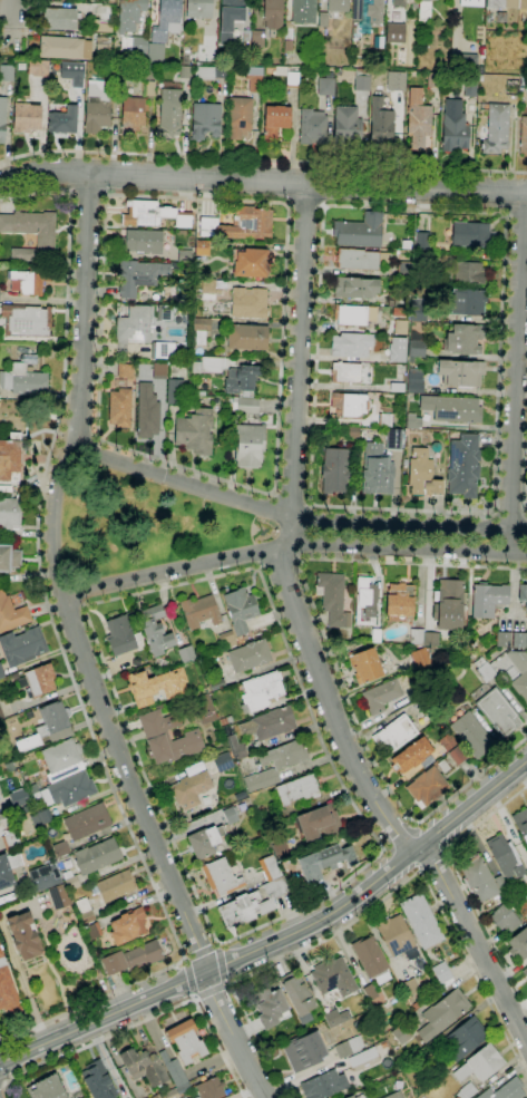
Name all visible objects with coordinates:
building: (399, 2)
building: (471, 2)
building: (501, 3)
building: (523, 4)
building: (338, 6)
building: (198, 9)
building: (303, 11)
road: (27, 12)
building: (423, 12)
building: (272, 13)
building: (365, 13)
road: (11, 14)
building: (129, 14)
building: (230, 18)
building: (490, 18)
building: (59, 19)
building: (323, 19)
building: (166, 20)
building: (101, 27)
building: (84, 29)
building: (393, 32)
building: (287, 36)
building: (246, 38)
building: (257, 39)
building: (33, 41)
building: (104, 42)
building: (65, 47)
building: (135, 47)
building: (38, 67)
building: (71, 72)
building: (185, 72)
building: (209, 72)
building: (6, 74)
building: (111, 74)
building: (254, 78)
building: (292, 79)
building: (362, 79)
building: (433, 80)
building: (396, 81)
building: (325, 85)
building: (149, 88)
building: (513, 88)
building: (470, 89)
building: (97, 106)
building: (169, 110)
building: (133, 115)
building: (26, 117)
building: (240, 117)
building: (2, 119)
building: (205, 119)
building: (64, 120)
building: (275, 122)
building: (380, 125)
building: (417, 125)
building: (347, 126)
building: (312, 127)
building: (453, 127)
building: (496, 129)
building: (523, 135)
road: (262, 161)
road: (263, 181)
road: (128, 196)
road: (89, 198)
road: (304, 206)
building: (154, 214)
road: (515, 216)
building: (208, 223)
building: (250, 224)
building: (359, 231)
building: (472, 235)
building: (45, 241)
building: (144, 241)
building: (422, 242)
building: (202, 247)
building: (422, 254)
building: (184, 256)
building: (360, 259)
building: (251, 263)
building: (403, 270)
building: (468, 273)
building: (139, 275)
building: (29, 280)
building: (355, 288)
building: (212, 289)
building: (401, 300)
building: (248, 302)
building: (467, 302)
road: (82, 310)
building: (418, 310)
building: (165, 312)
building: (354, 314)
building: (26, 321)
building: (133, 327)
building: (400, 328)
building: (201, 330)
building: (0, 334)
building: (247, 337)
building: (465, 340)
building: (351, 344)
building: (417, 349)
building: (162, 350)
building: (397, 350)
building: (211, 363)
building: (126, 370)
building: (159, 371)
building: (344, 372)
building: (460, 372)
road: (515, 373)
building: (23, 378)
building: (241, 378)
building: (414, 380)
building: (397, 387)
building: (176, 392)
building: (197, 392)
building: (245, 405)
building: (349, 405)
building: (120, 408)
building: (451, 409)
building: (147, 411)
building: (384, 419)
building: (412, 421)
building: (195, 431)
building: (352, 431)
building: (393, 439)
building: (250, 446)
building: (10, 457)
building: (404, 463)
building: (463, 466)
building: (335, 470)
building: (377, 470)
building: (422, 474)
road: (292, 495)
road: (491, 512)
building: (9, 513)
road: (508, 513)
road: (53, 519)
road: (293, 521)
park: (143, 524)
road: (291, 535)
road: (291, 544)
building: (9, 557)
road: (279, 564)
building: (523, 594)
building: (333, 599)
building: (488, 599)
building: (365, 601)
building: (400, 602)
building: (448, 605)
building: (240, 611)
building: (201, 612)
building: (11, 614)
building: (526, 621)
building: (155, 630)
building: (121, 634)
building: (416, 637)
building: (430, 639)
building: (502, 639)
building: (226, 640)
building: (519, 640)
building: (22, 645)
road: (64, 649)
building: (186, 654)
building: (250, 655)
road: (332, 657)
building: (420, 658)
building: (448, 659)
building: (518, 660)
building: (159, 663)
building: (365, 665)
building: (485, 672)
building: (1, 673)
building: (37, 680)
building: (521, 686)
building: (156, 687)
building: (261, 691)
building: (381, 696)
building: (205, 709)
building: (498, 711)
building: (1, 716)
building: (53, 722)
building: (269, 723)
building: (394, 733)
building: (471, 735)
building: (167, 738)
building: (448, 742)
building: (235, 747)
building: (458, 755)
building: (411, 756)
building: (62, 760)
building: (223, 762)
building: (275, 764)
building: (443, 766)
building: (9, 767)
road: (130, 785)
building: (31, 787)
building: (427, 787)
building: (191, 789)
building: (297, 789)
building: (72, 790)
building: (36, 796)
building: (26, 808)
building: (230, 814)
building: (41, 818)
building: (87, 822)
building: (318, 823)
building: (521, 824)
building: (11, 839)
building: (204, 842)
building: (61, 849)
building: (281, 849)
building: (97, 856)
building: (505, 857)
building: (329, 861)
building: (67, 864)
building: (270, 867)
building: (8, 868)
road: (355, 871)
building: (45, 877)
building: (221, 877)
building: (480, 880)
building: (70, 881)
road: (462, 883)
building: (115, 886)
building: (58, 896)
building: (253, 904)
road: (372, 904)
building: (85, 911)
building: (505, 919)
building: (421, 921)
building: (128, 926)
building: (92, 931)
building: (25, 935)
building: (398, 937)
road: (279, 939)
building: (518, 944)
road: (476, 945)
road: (201, 948)
building: (133, 959)
road: (233, 959)
building: (372, 959)
building: (525, 972)
building: (442, 975)
building: (333, 978)
road: (186, 981)
building: (409, 988)
building: (8, 989)
road: (211, 991)
building: (370, 992)
building: (297, 997)
building: (269, 1007)
building: (442, 1013)
building: (335, 1018)
road: (144, 1020)
building: (401, 1034)
road: (233, 1036)
building: (466, 1038)
building: (186, 1041)
building: (348, 1047)
building: (304, 1051)
building: (362, 1057)
building: (480, 1063)
building: (144, 1066)
building: (177, 1076)
building: (96, 1080)
building: (323, 1085)
building: (45, 1088)
building: (211, 1088)
building: (466, 1090)
building: (506, 1090)
building: (172, 1094)
building: (396, 1095)
building: (154, 1097)
building: (350, 1097)

